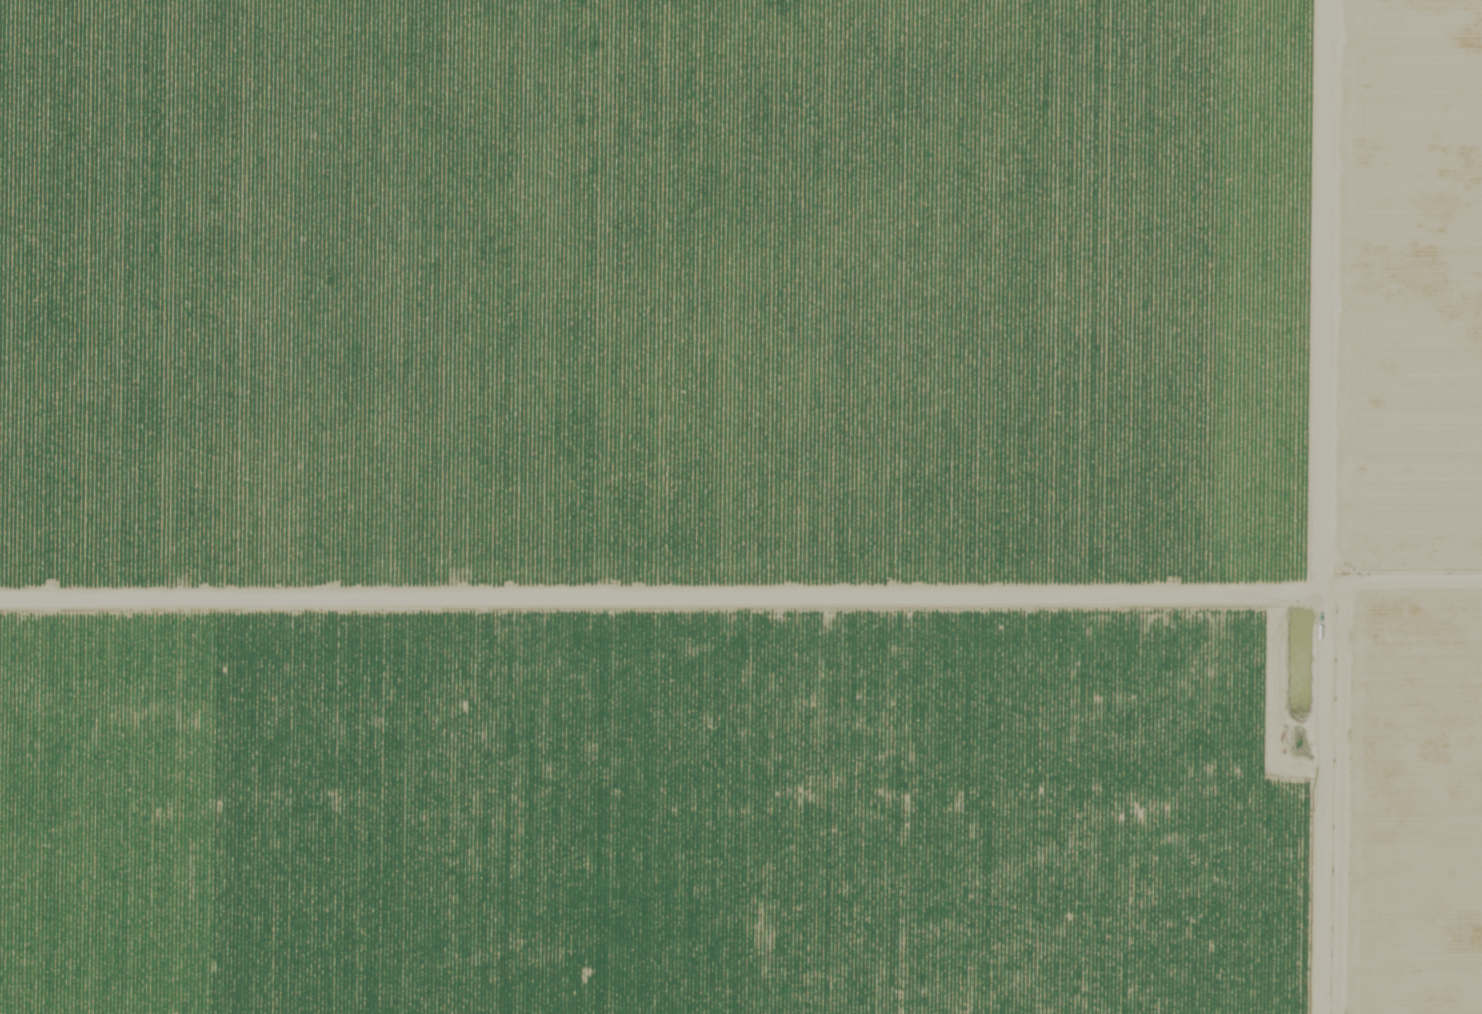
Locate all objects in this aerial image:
crop: (669, 506)
road: (1330, 507)
crop: (1409, 507)

